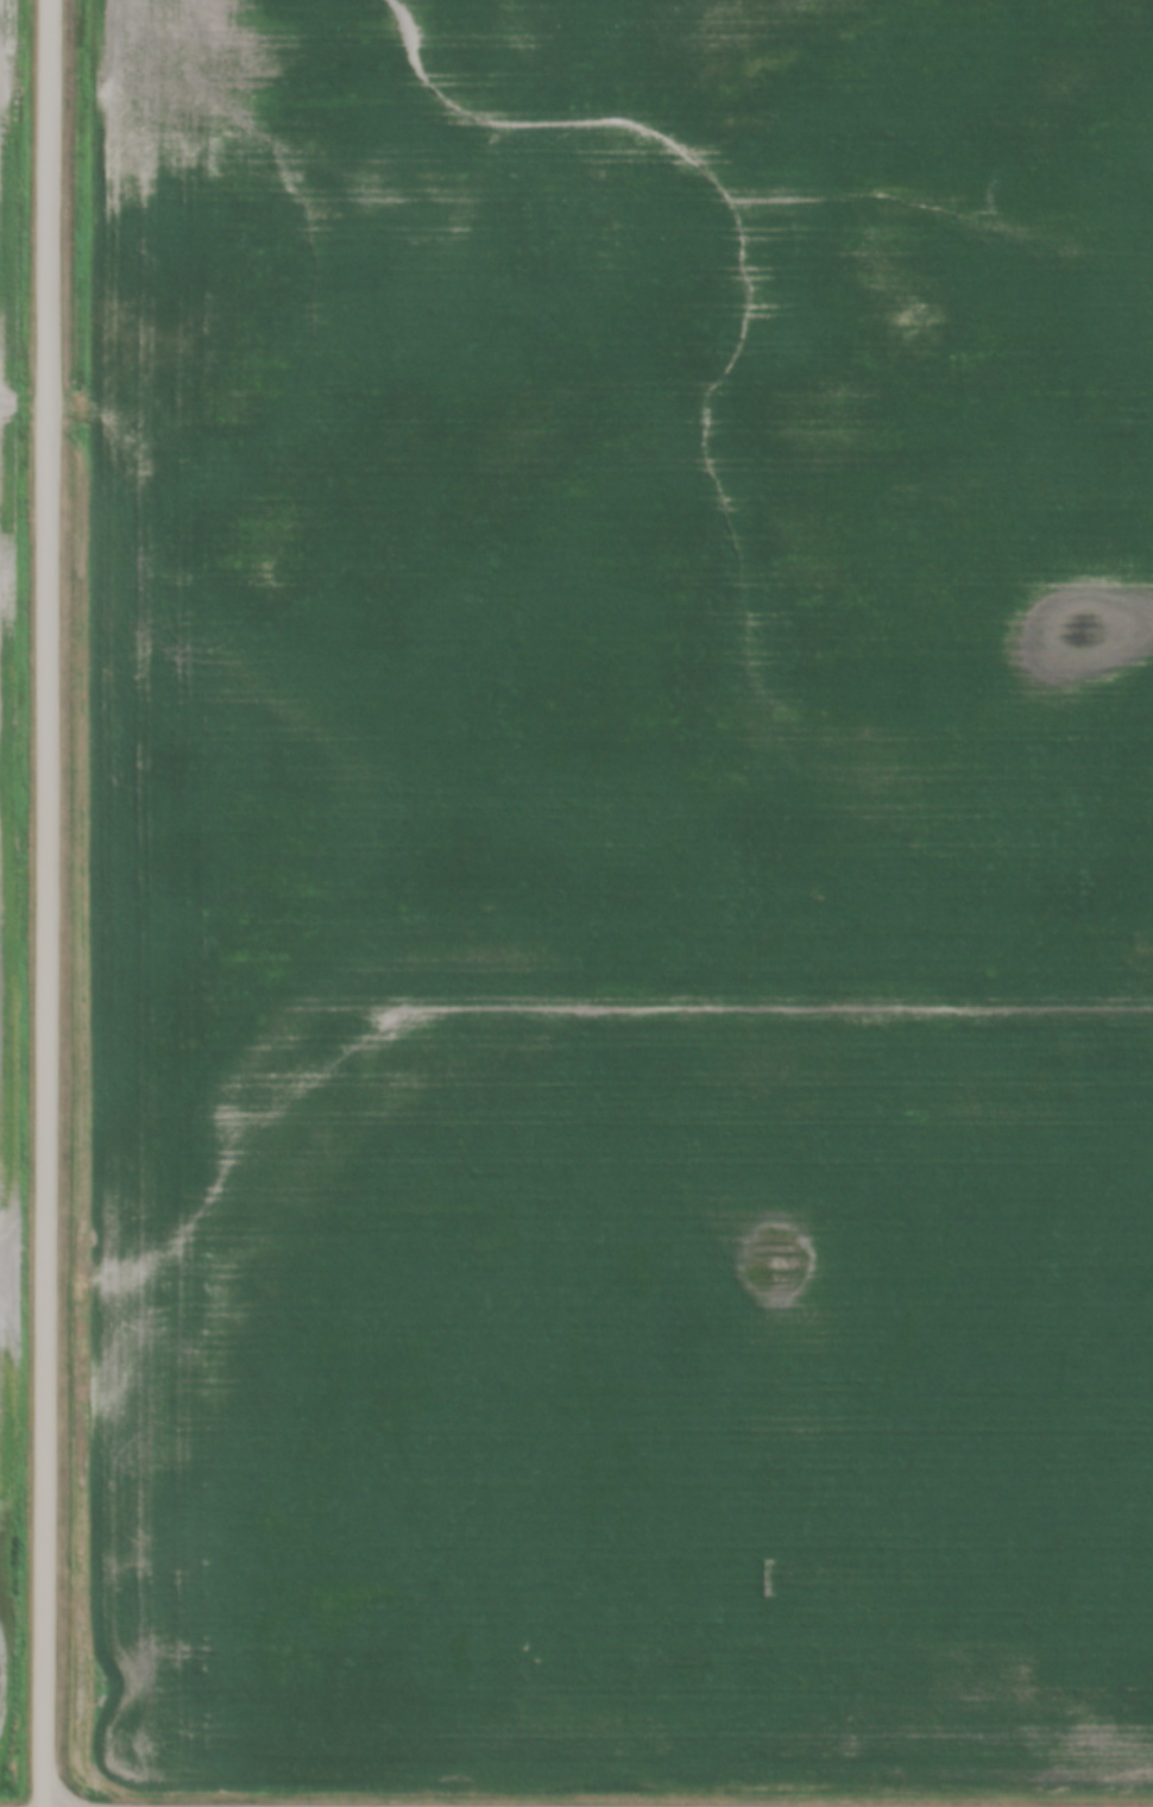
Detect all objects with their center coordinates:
road: (48, 903)

